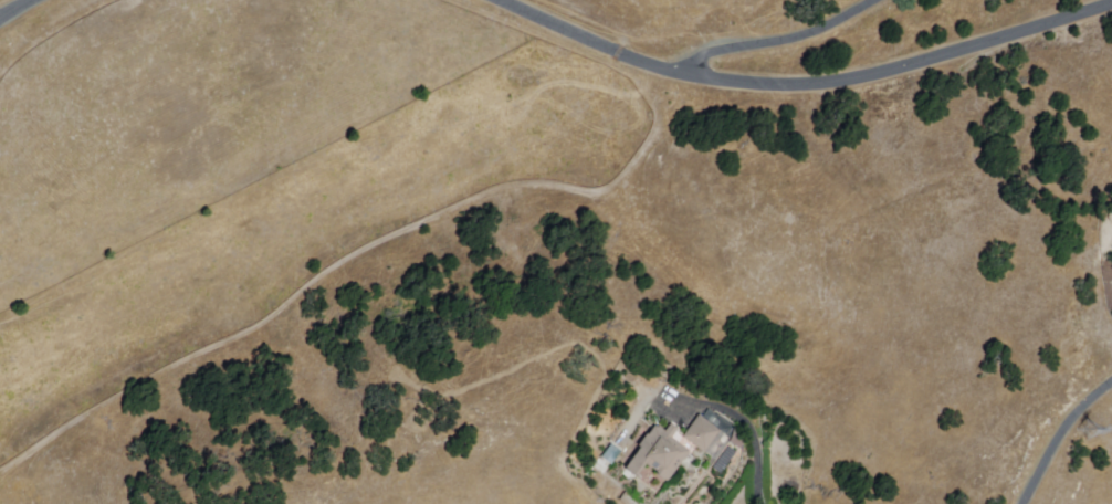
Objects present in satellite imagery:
road: (15, 9)
road: (778, 41)
road: (802, 86)
road: (747, 427)
building: (703, 434)
power tower: (1095, 437)
road: (1061, 438)
building: (659, 453)
building: (612, 454)

